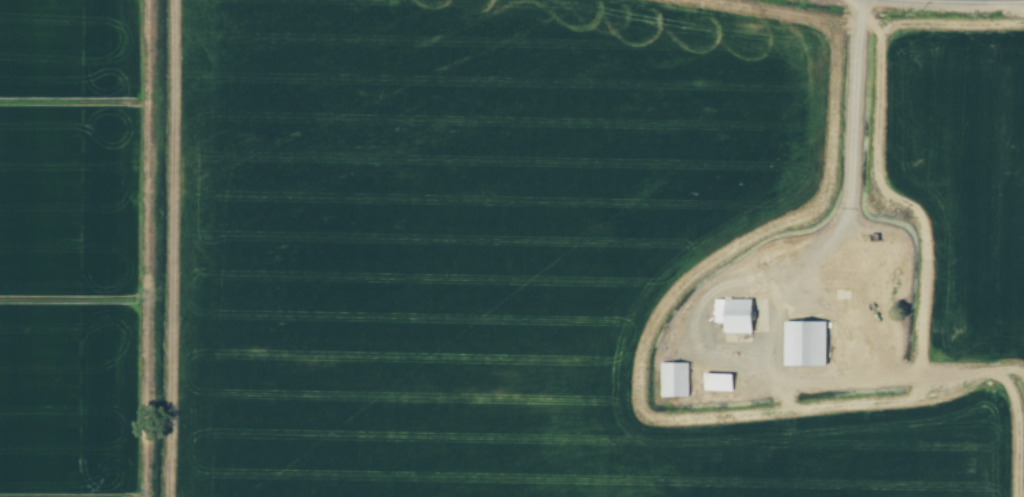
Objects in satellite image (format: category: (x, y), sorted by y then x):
road: (944, 1)
road: (849, 202)
crop: (69, 249)
building: (737, 315)
building: (808, 344)
building: (676, 380)
building: (720, 382)

